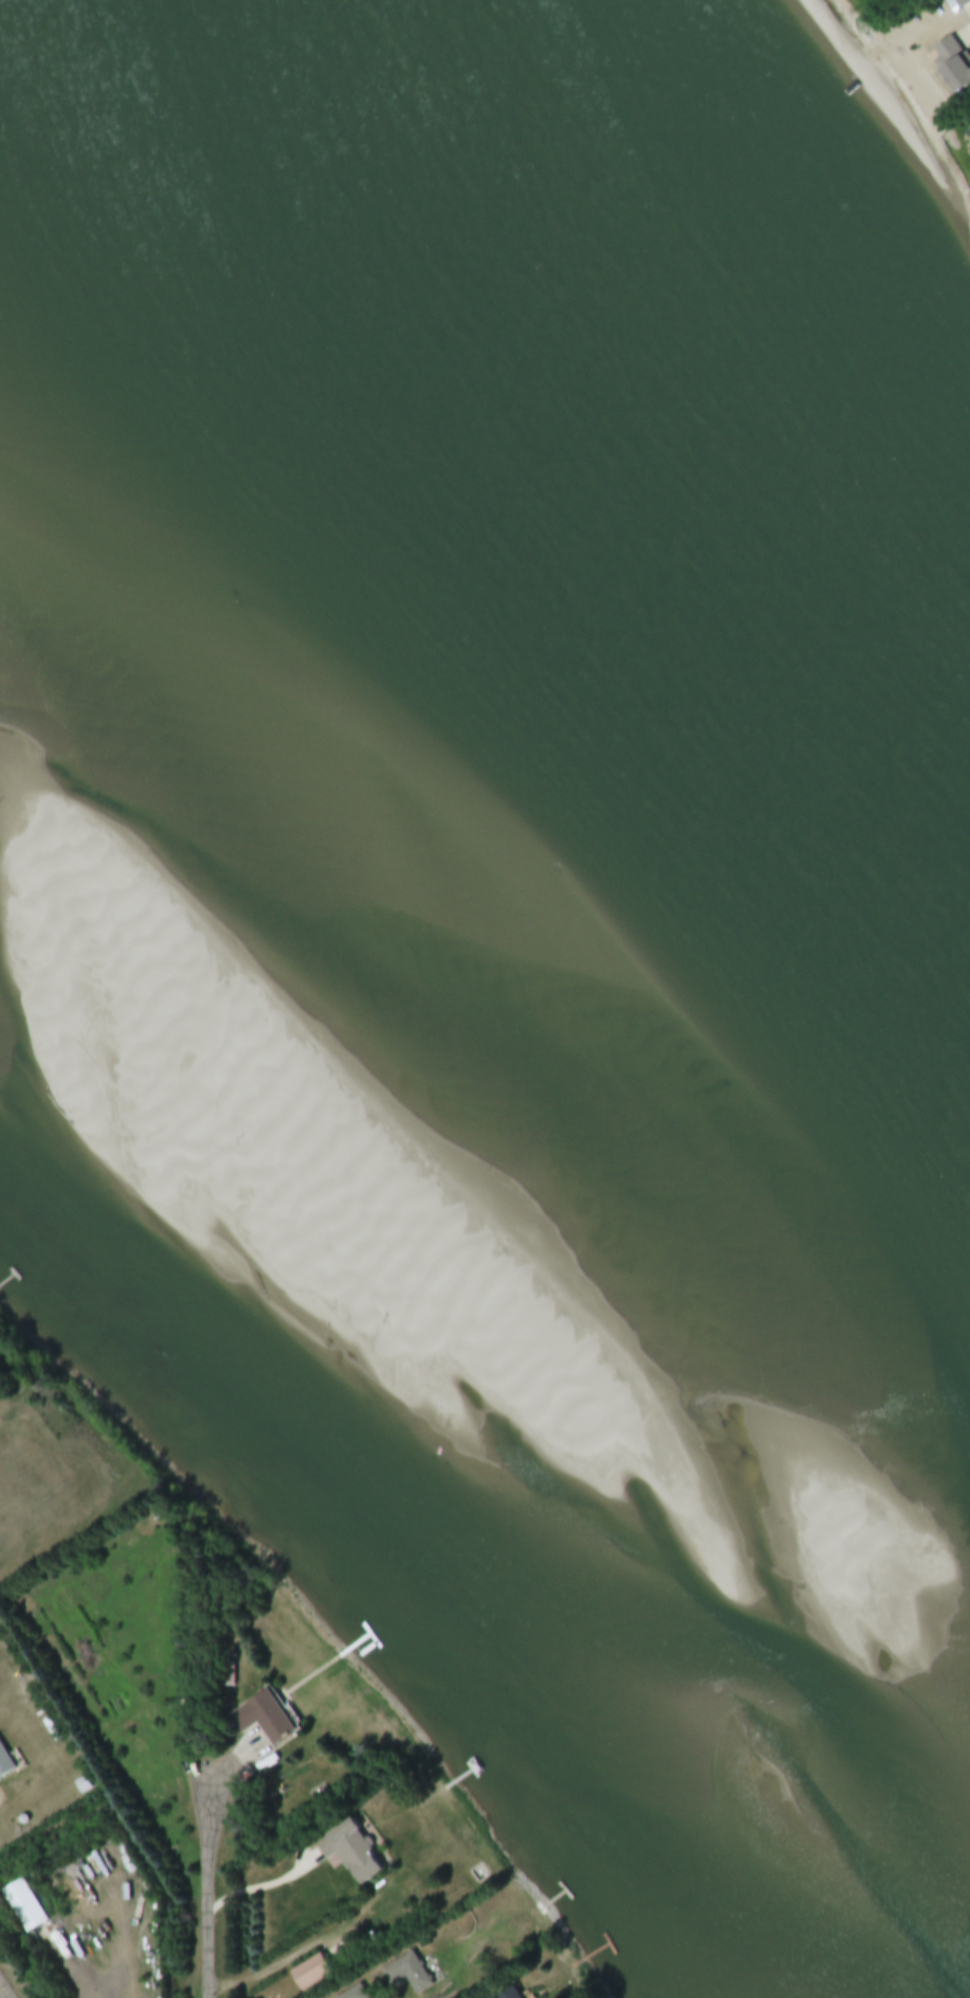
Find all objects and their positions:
building: (964, 3)
road: (968, 34)
building: (956, 63)
river: (454, 950)
building: (267, 1719)
building: (5, 1764)
building: (82, 1785)
building: (348, 1853)
road: (266, 1887)
road: (208, 1888)
building: (22, 1907)
road: (95, 1937)
road: (281, 1967)
building: (309, 1974)
building: (406, 1974)
road: (2, 1994)

